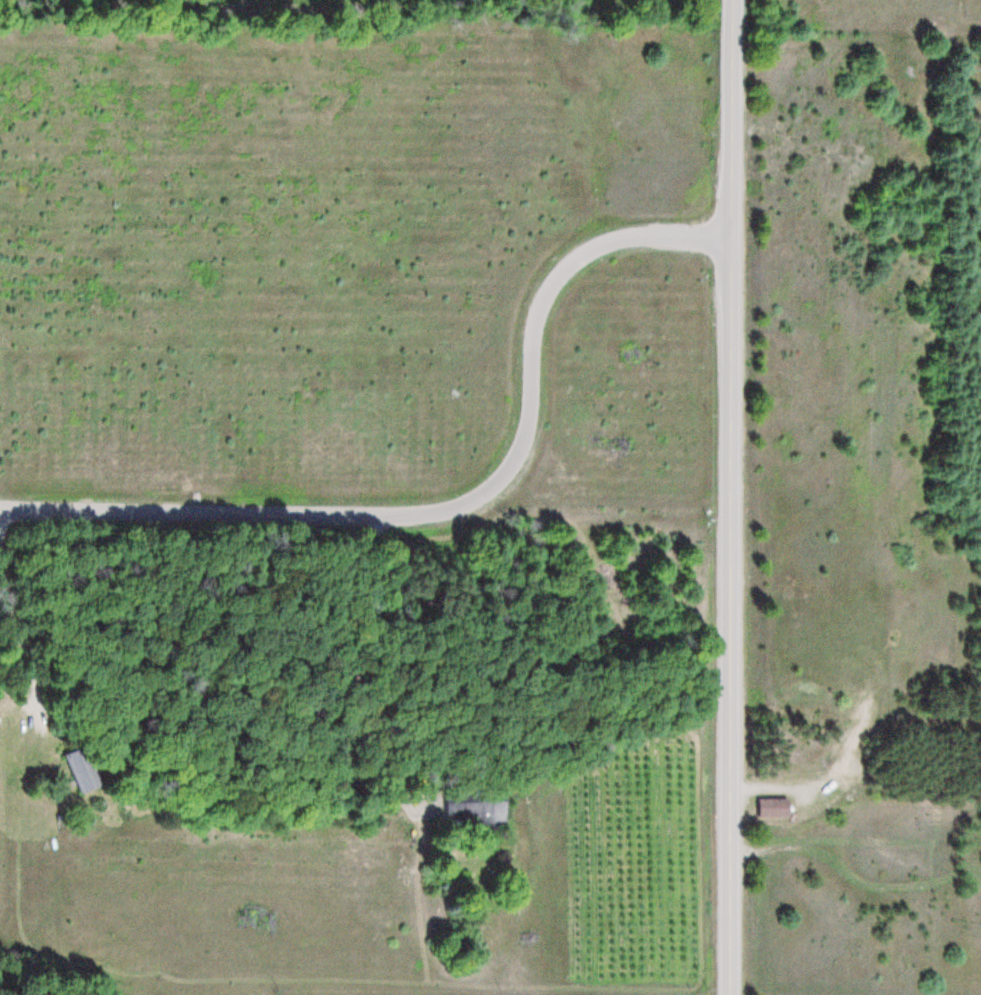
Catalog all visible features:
road: (729, 497)
road: (454, 505)
building: (776, 807)
building: (479, 810)
road: (461, 979)

